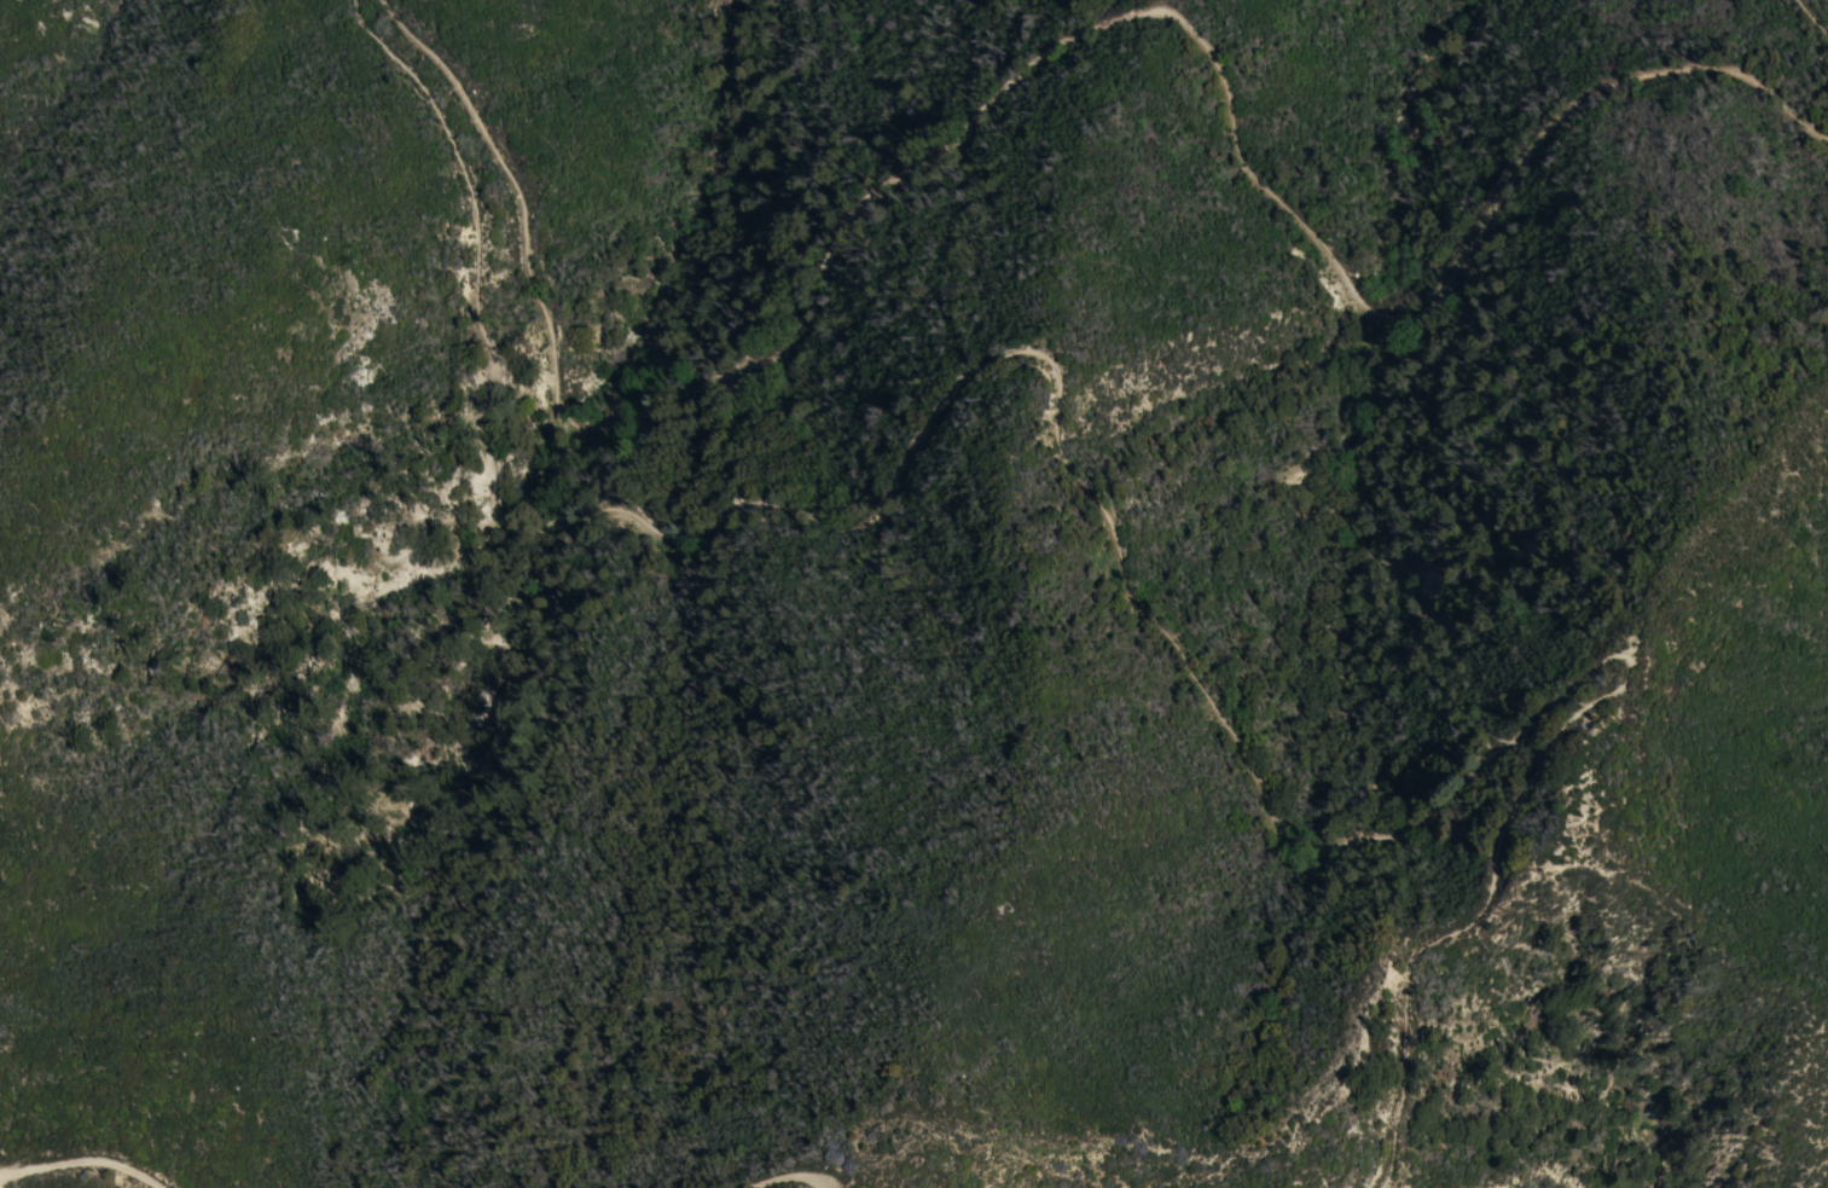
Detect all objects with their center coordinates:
road: (1812, 16)
road: (1040, 57)
road: (1097, 498)
road: (87, 1153)
road: (762, 1172)
road: (817, 1173)

